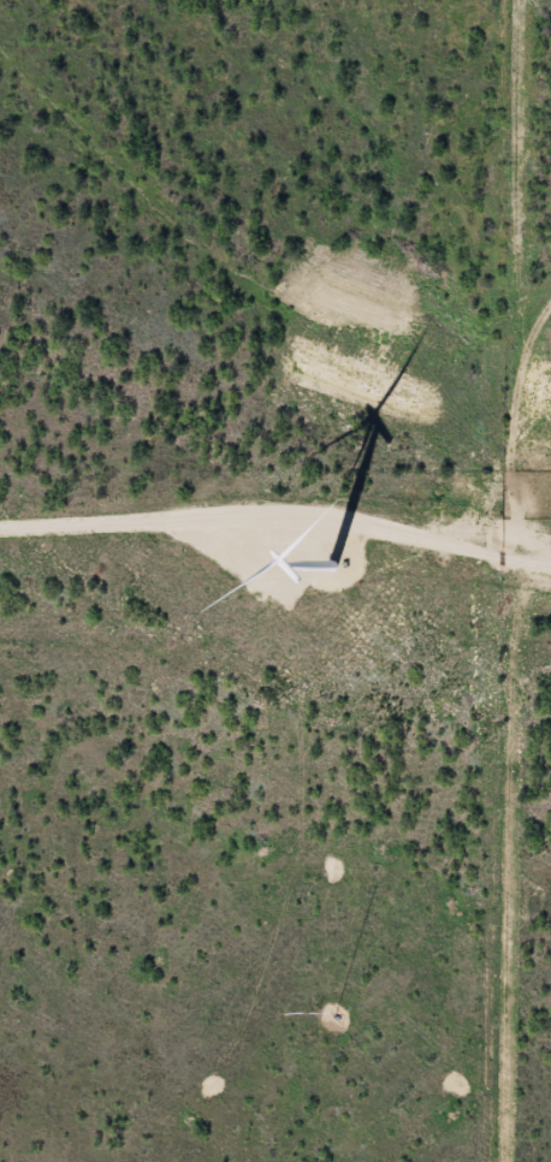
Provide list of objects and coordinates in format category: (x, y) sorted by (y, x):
wind turbine: (312, 568)

